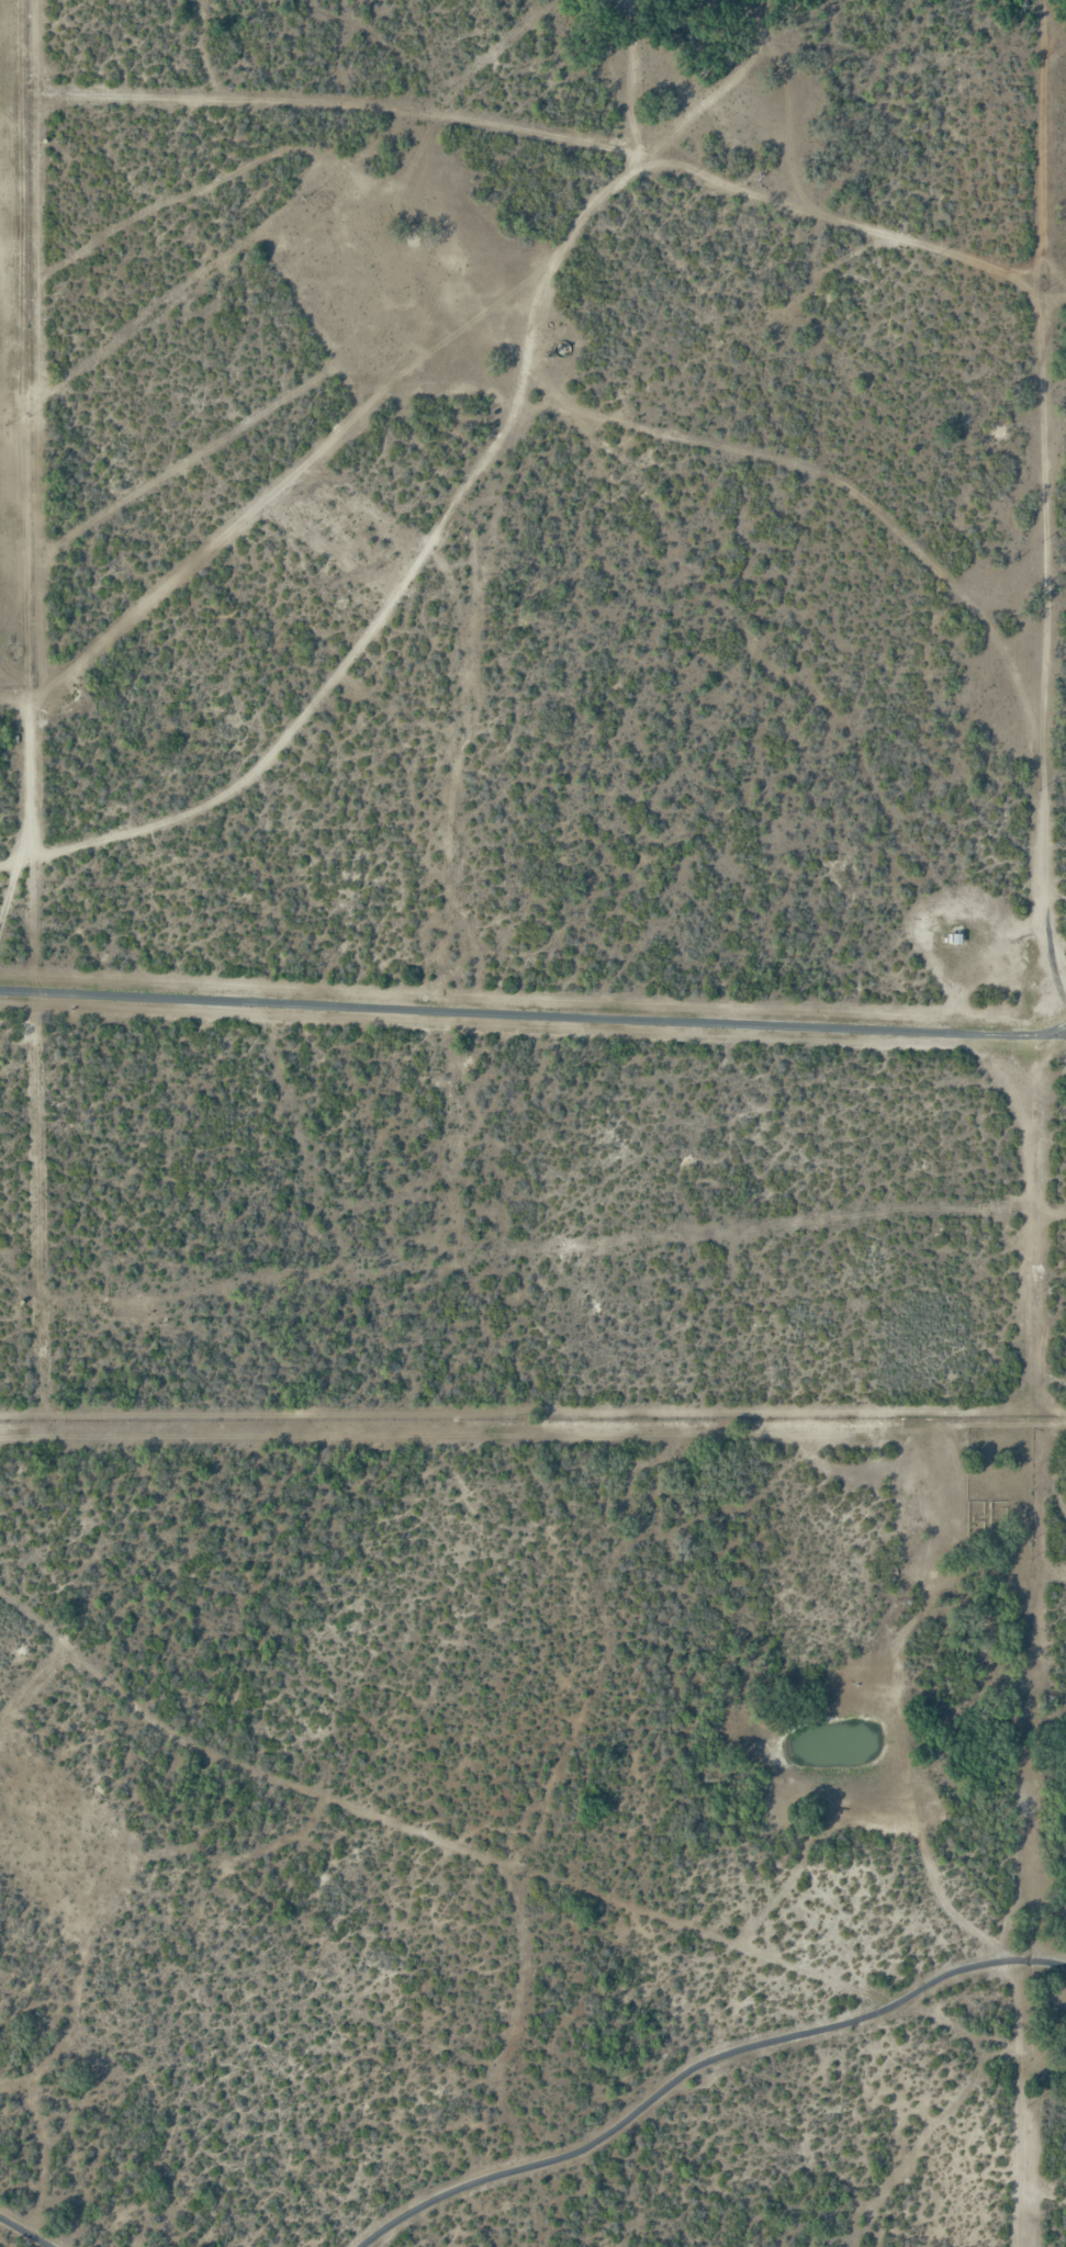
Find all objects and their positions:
road: (554, 259)
road: (602, 420)
building: (957, 940)
road: (534, 1012)
road: (699, 2067)
road: (24, 2232)

